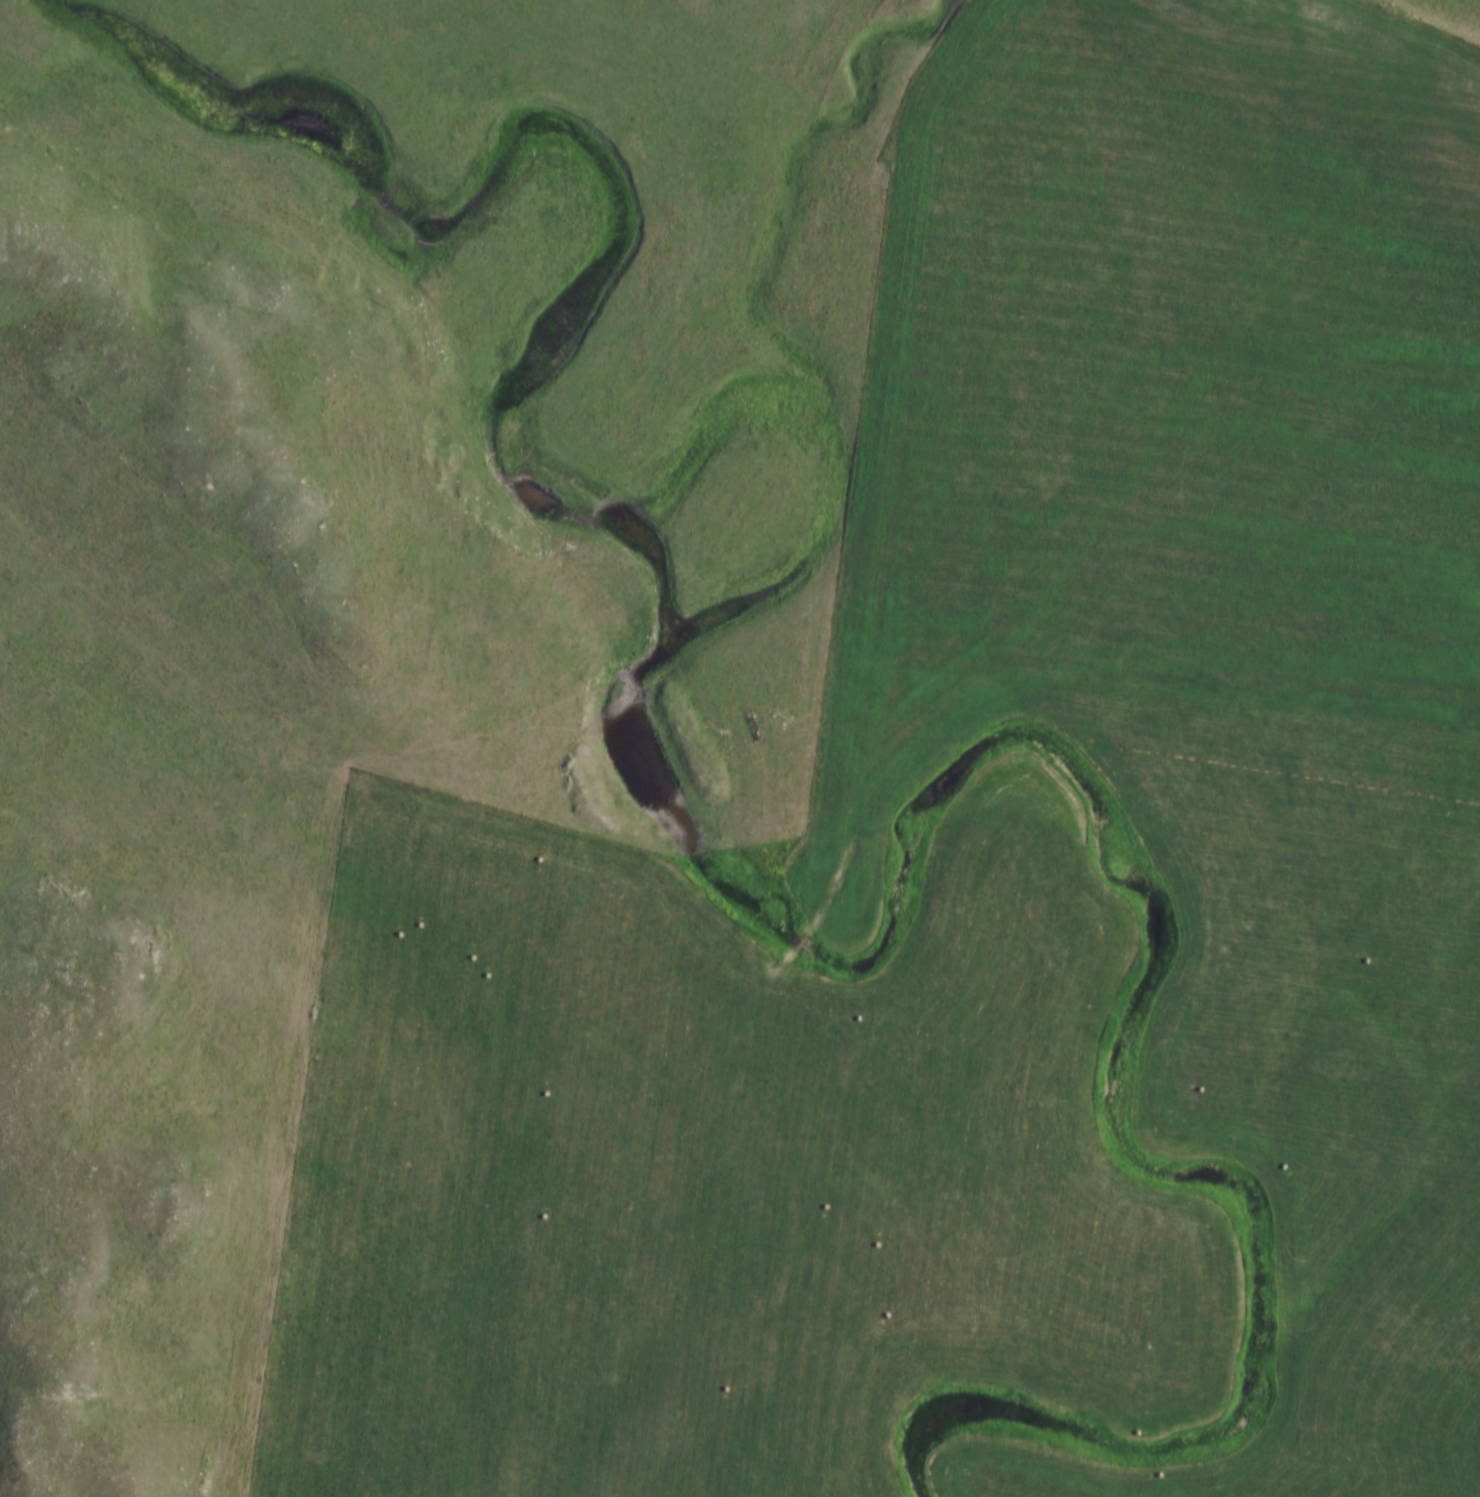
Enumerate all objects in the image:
road: (743, 1260)

